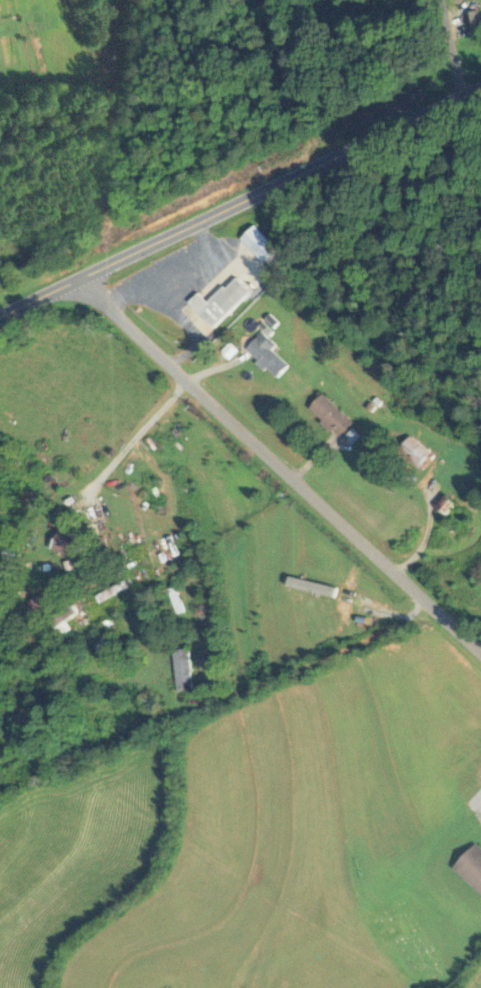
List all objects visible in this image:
building: (470, 21)
road: (447, 48)
road: (240, 198)
building: (256, 243)
building: (219, 301)
building: (264, 354)
building: (328, 414)
road: (130, 439)
building: (413, 453)
road: (276, 467)
building: (61, 539)
building: (34, 601)
building: (58, 614)
road: (316, 658)
building: (179, 668)
building: (64, 743)
building: (470, 866)

